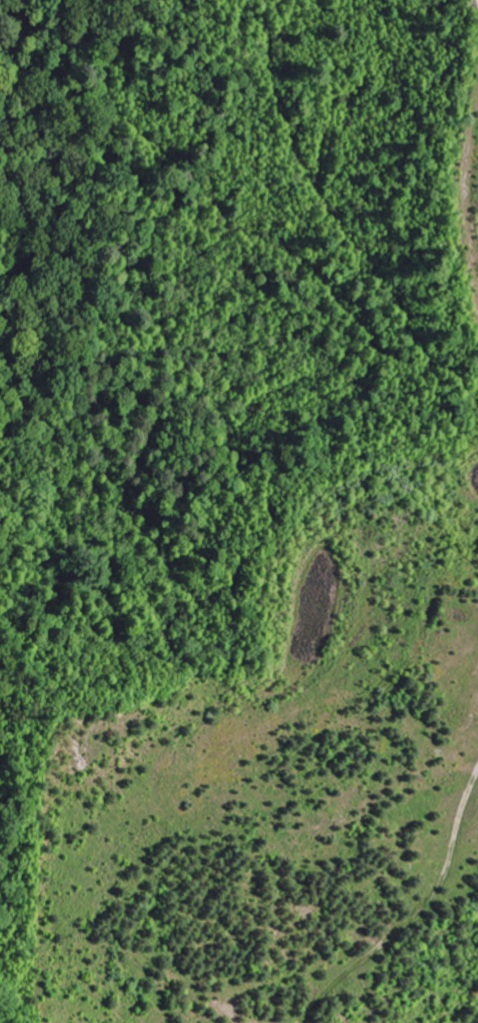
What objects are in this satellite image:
road: (288, 25)

